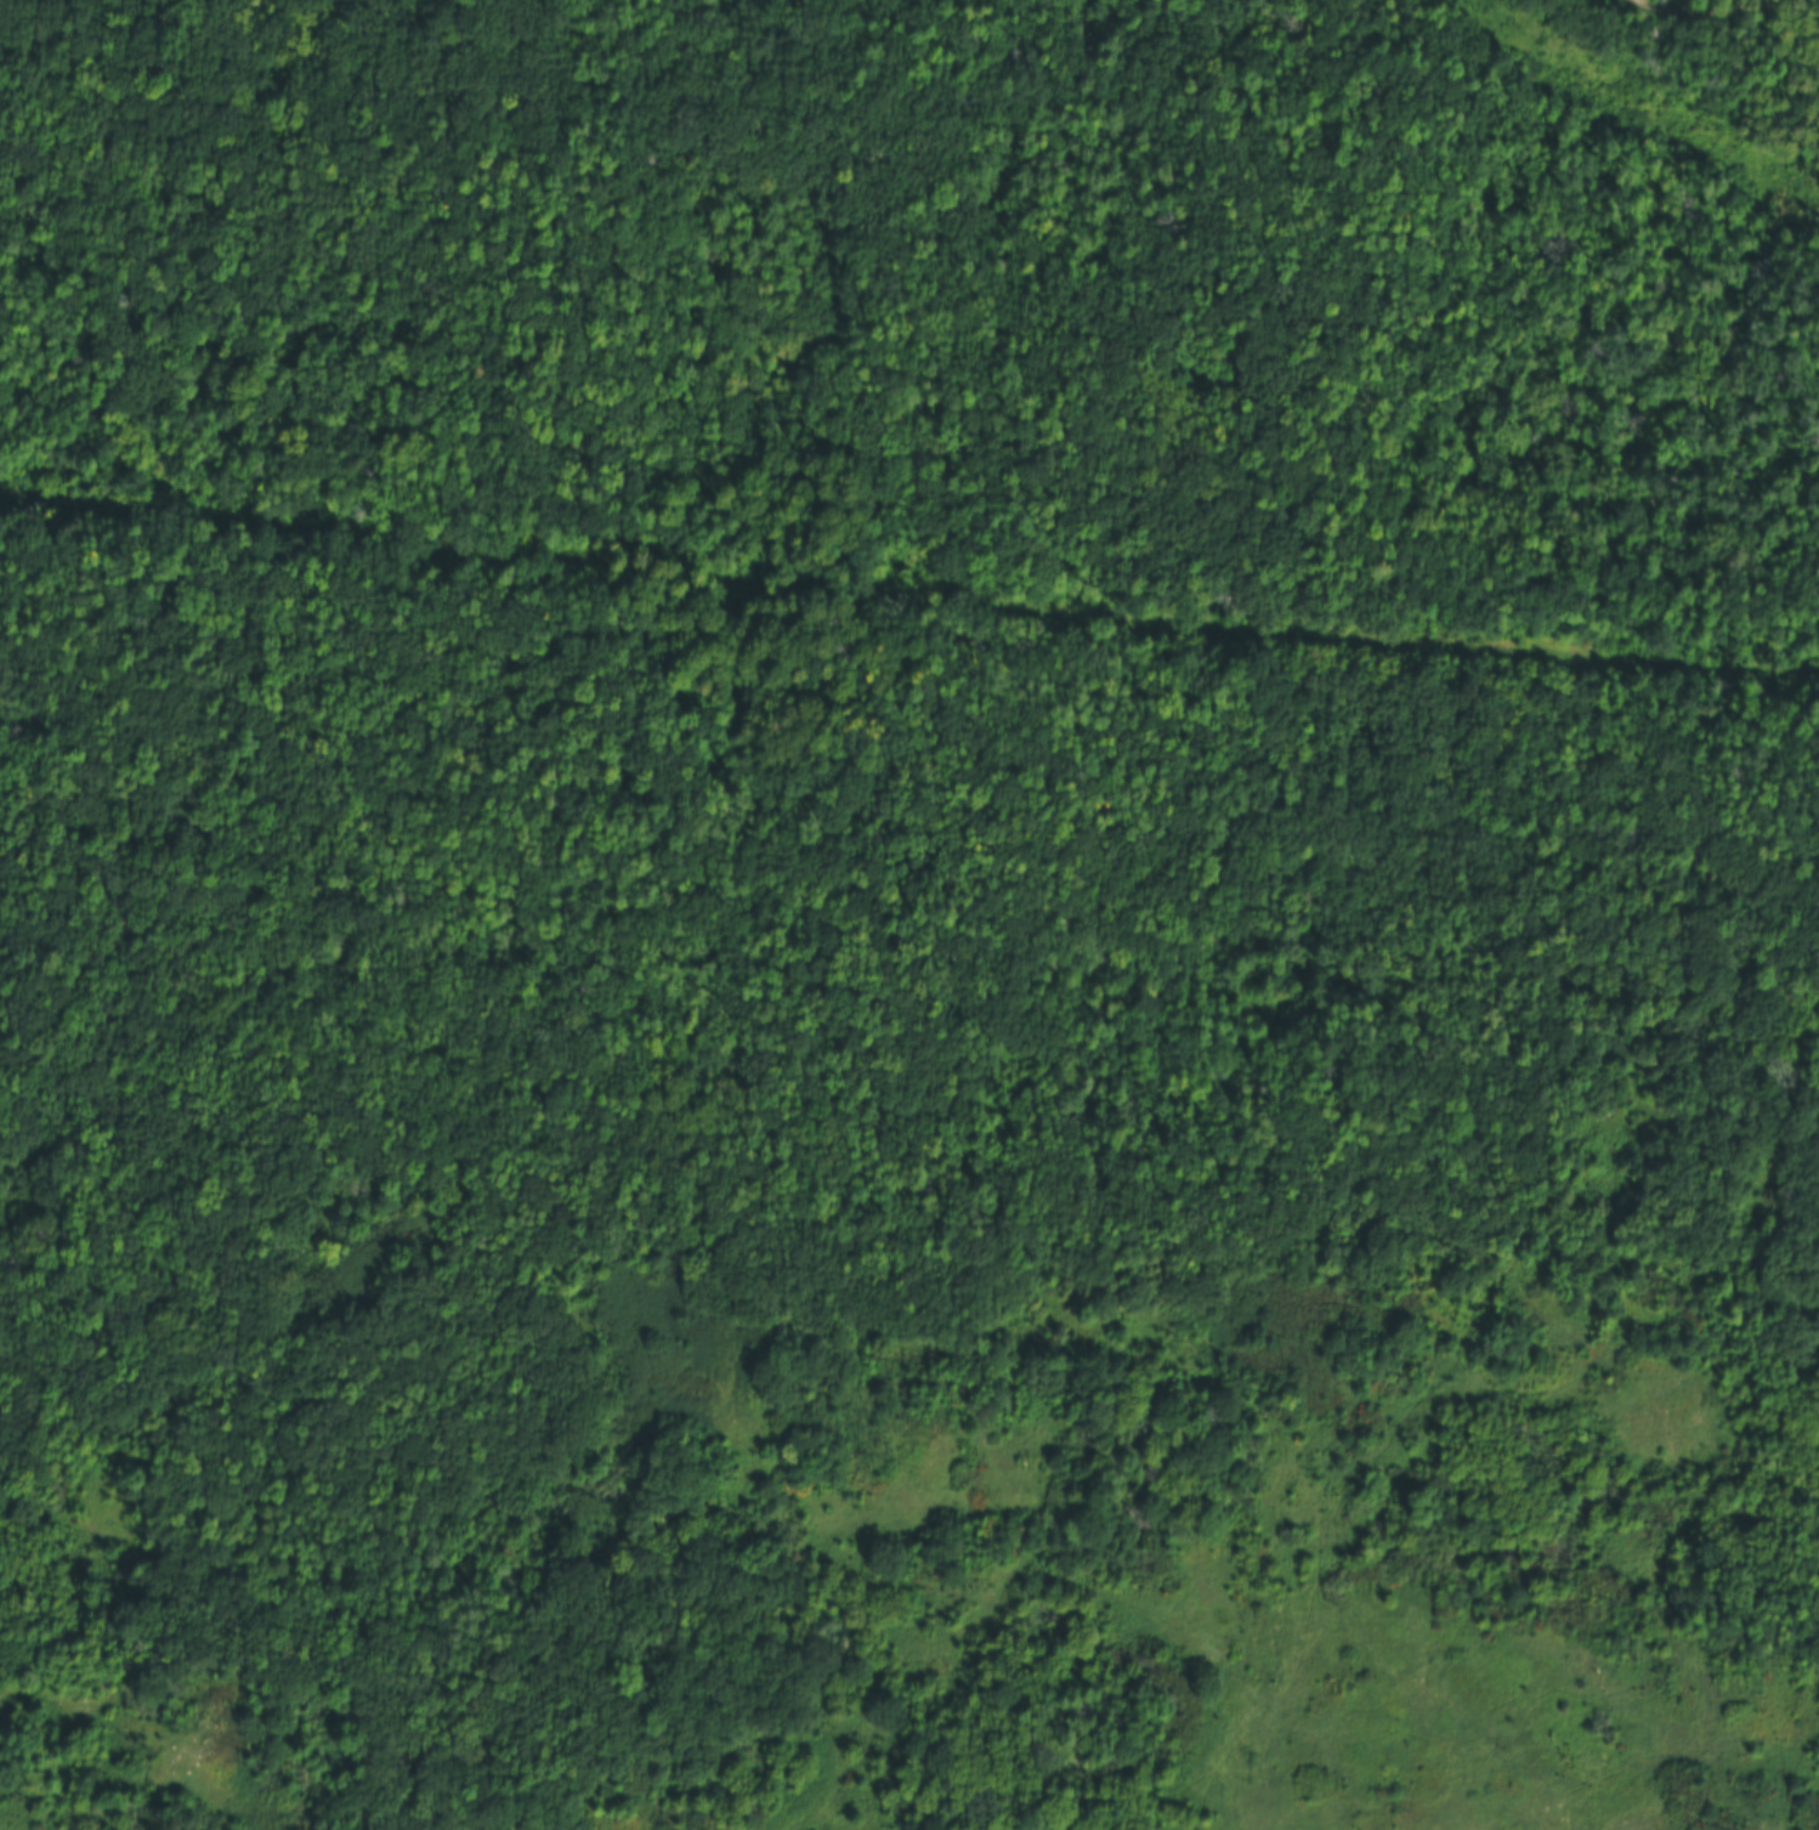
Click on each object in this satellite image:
road: (1729, 12)

